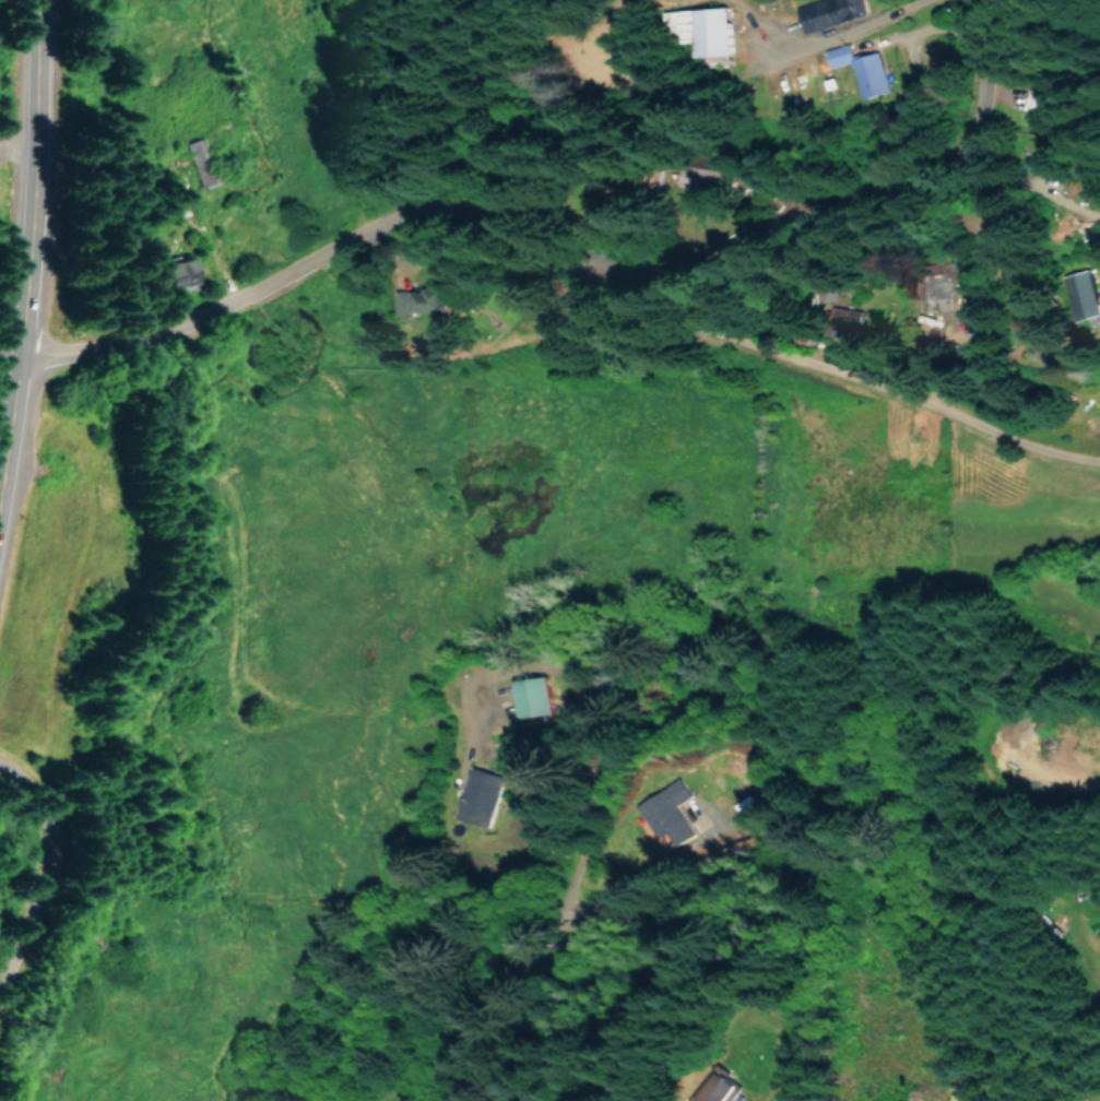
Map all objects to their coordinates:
building: (827, 12)
building: (837, 55)
building: (868, 74)
building: (198, 159)
road: (561, 167)
building: (701, 177)
road: (28, 259)
building: (175, 271)
building: (824, 292)
building: (1081, 294)
building: (417, 300)
building: (847, 321)
road: (784, 354)
building: (529, 696)
building: (475, 801)
building: (665, 810)
road: (37, 876)
building: (719, 1087)

